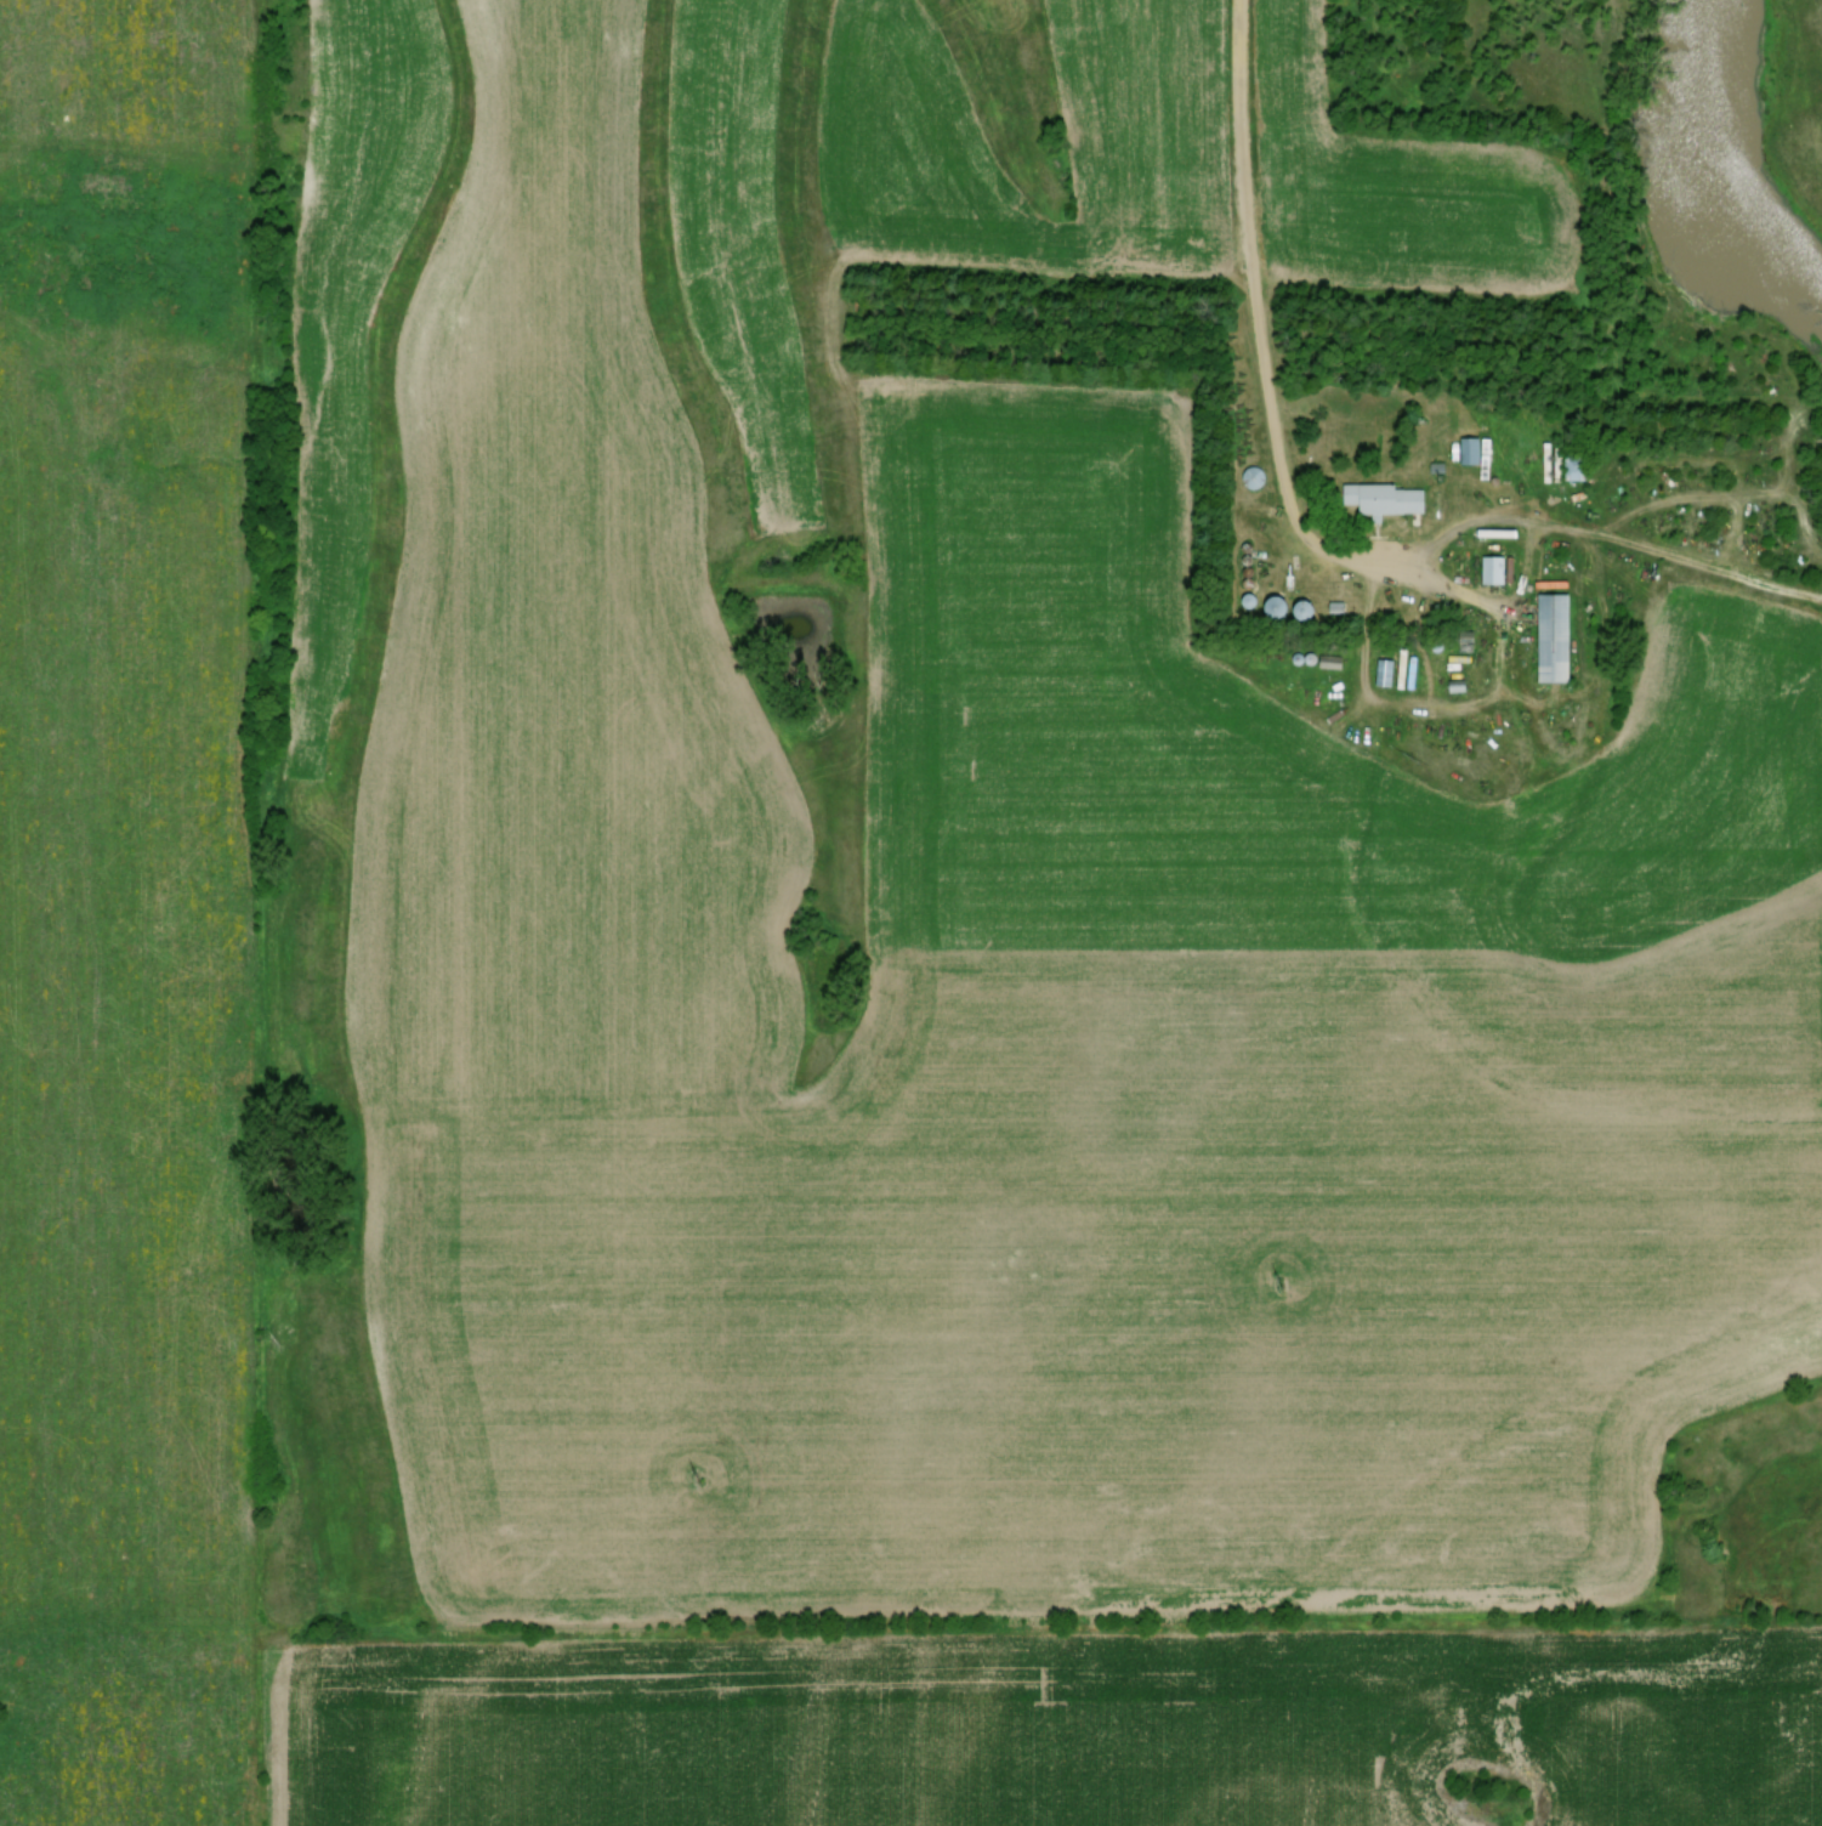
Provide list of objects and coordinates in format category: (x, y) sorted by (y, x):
road: (1251, 270)
building: (1475, 453)
building: (1563, 463)
building: (1255, 477)
building: (1389, 498)
road: (1616, 514)
building: (1497, 569)
building: (1310, 611)
building: (1559, 637)
building: (1389, 673)

